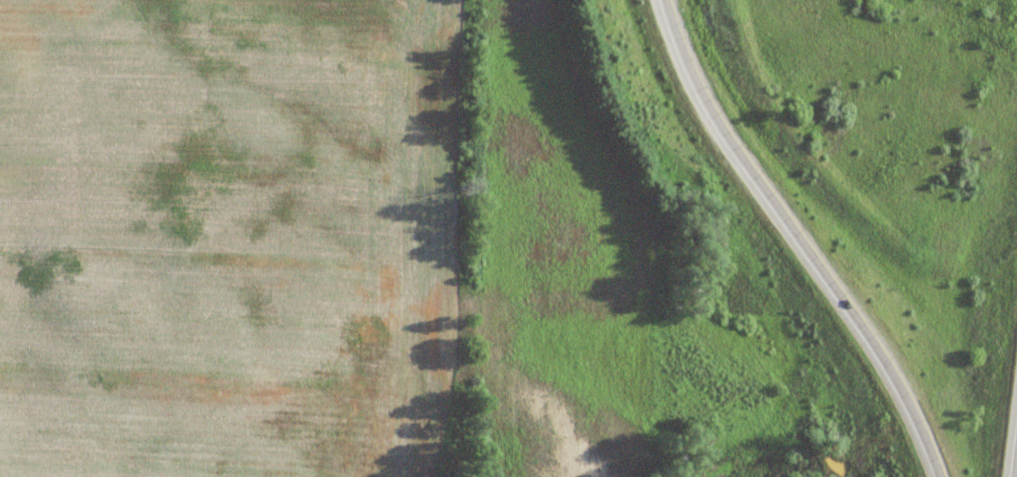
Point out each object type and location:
road: (798, 239)
road: (1016, 474)

